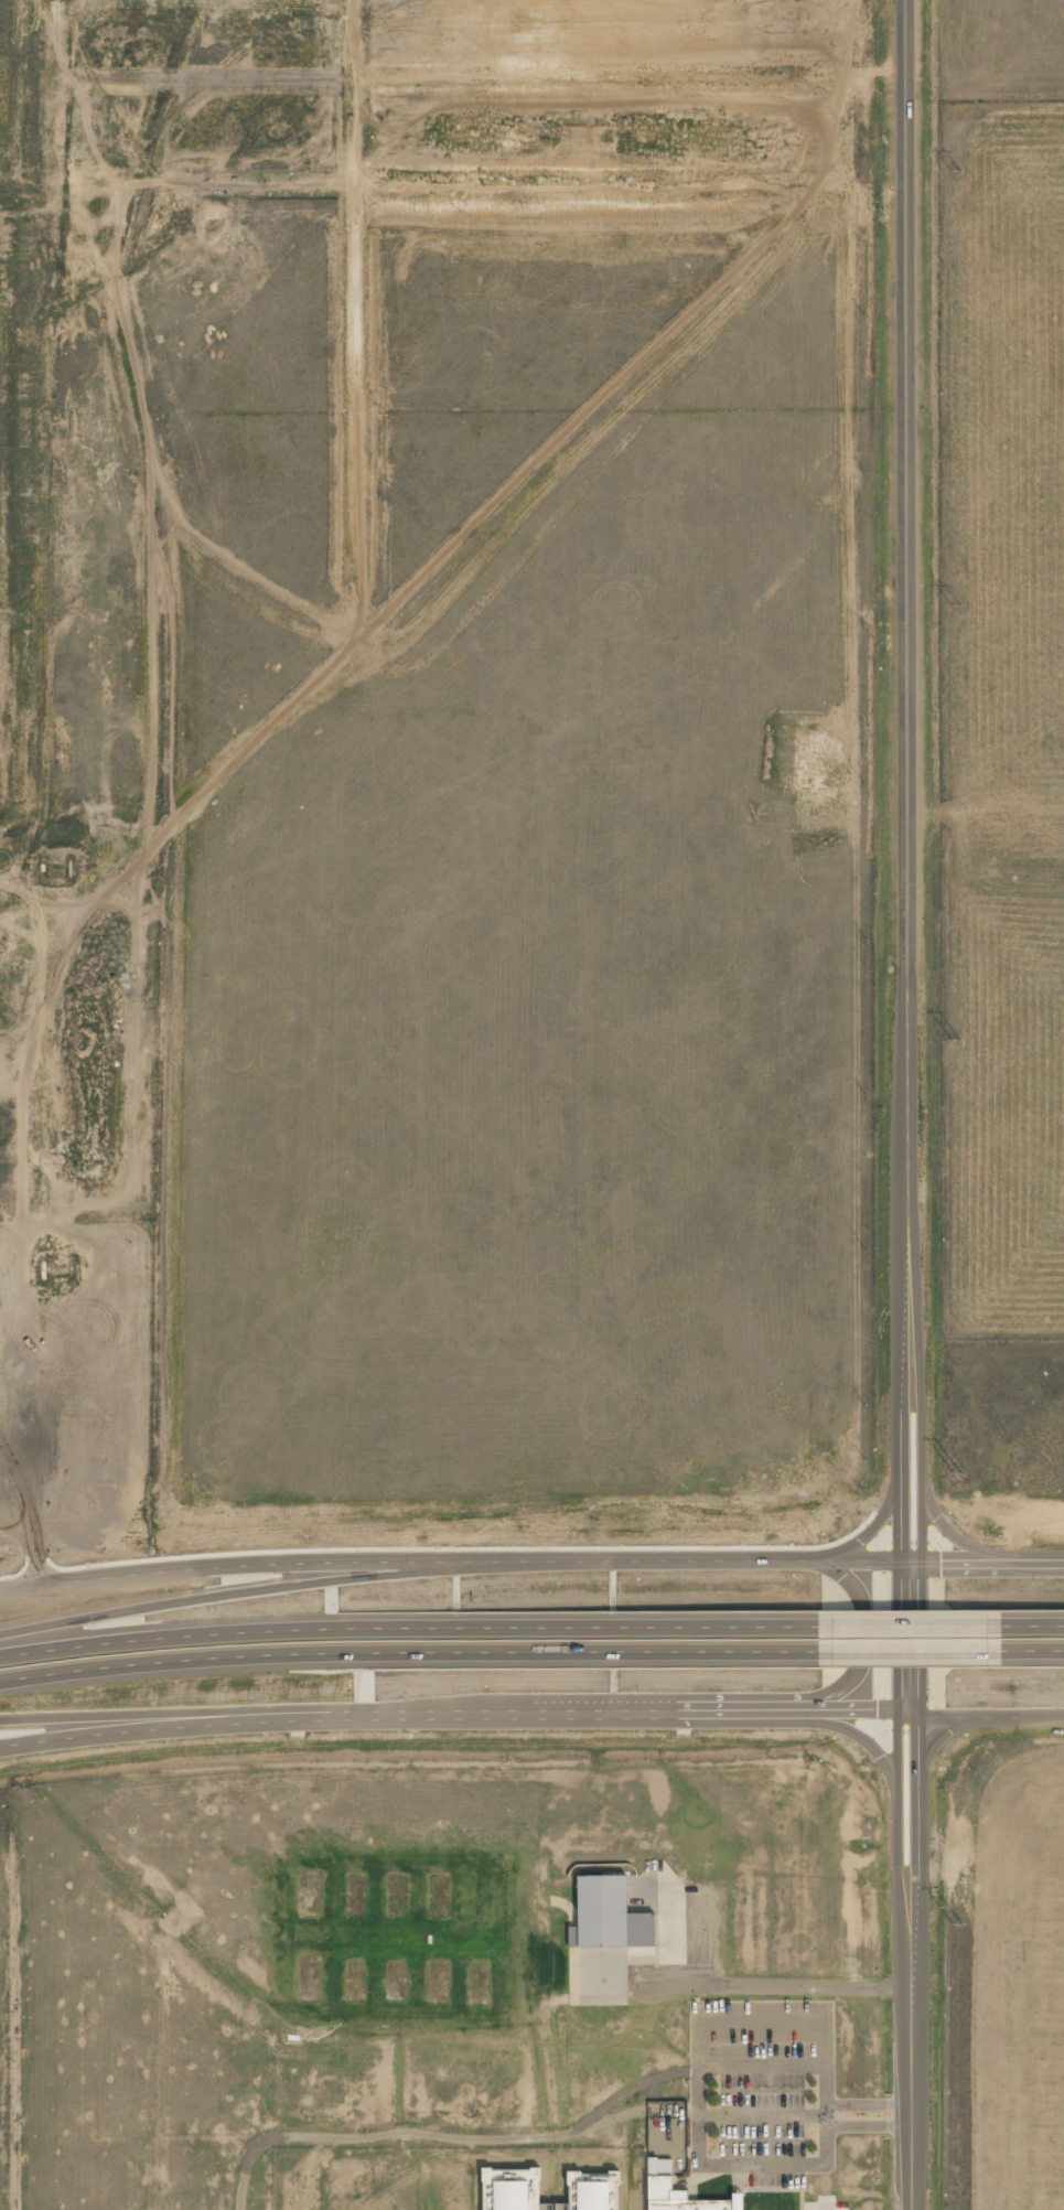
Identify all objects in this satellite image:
power tower: (958, 171)
power tower: (958, 607)
road: (906, 858)
power tower: (959, 1042)
power tower: (958, 1473)
road: (530, 1560)
road: (260, 1586)
road: (404, 1619)
road: (901, 1620)
road: (1029, 1620)
road: (867, 1638)
road: (402, 1657)
road: (902, 1659)
road: (1030, 1660)
road: (530, 1717)
road: (140, 1718)
building: (610, 1917)
power tower: (960, 1925)
road: (910, 1964)
building: (656, 2173)
building: (513, 2189)

